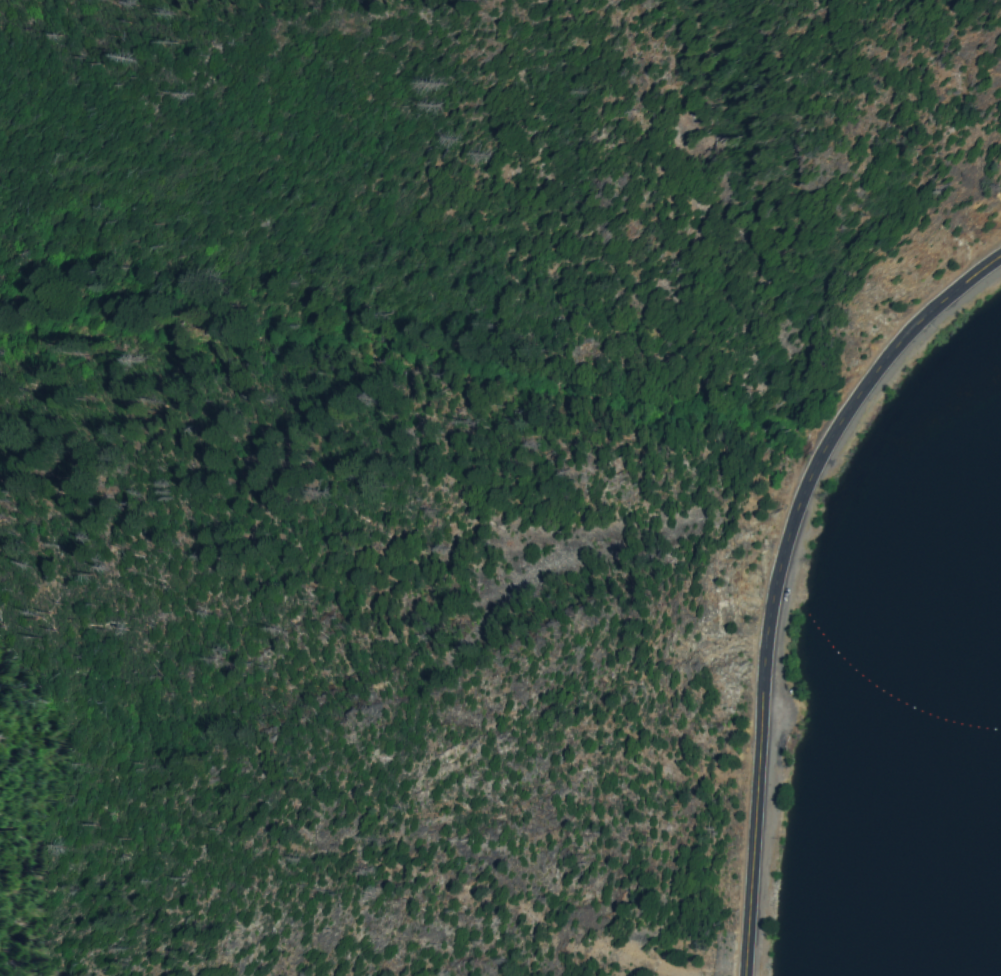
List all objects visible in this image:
road: (777, 576)
river: (991, 581)
river: (952, 760)
river: (923, 951)

